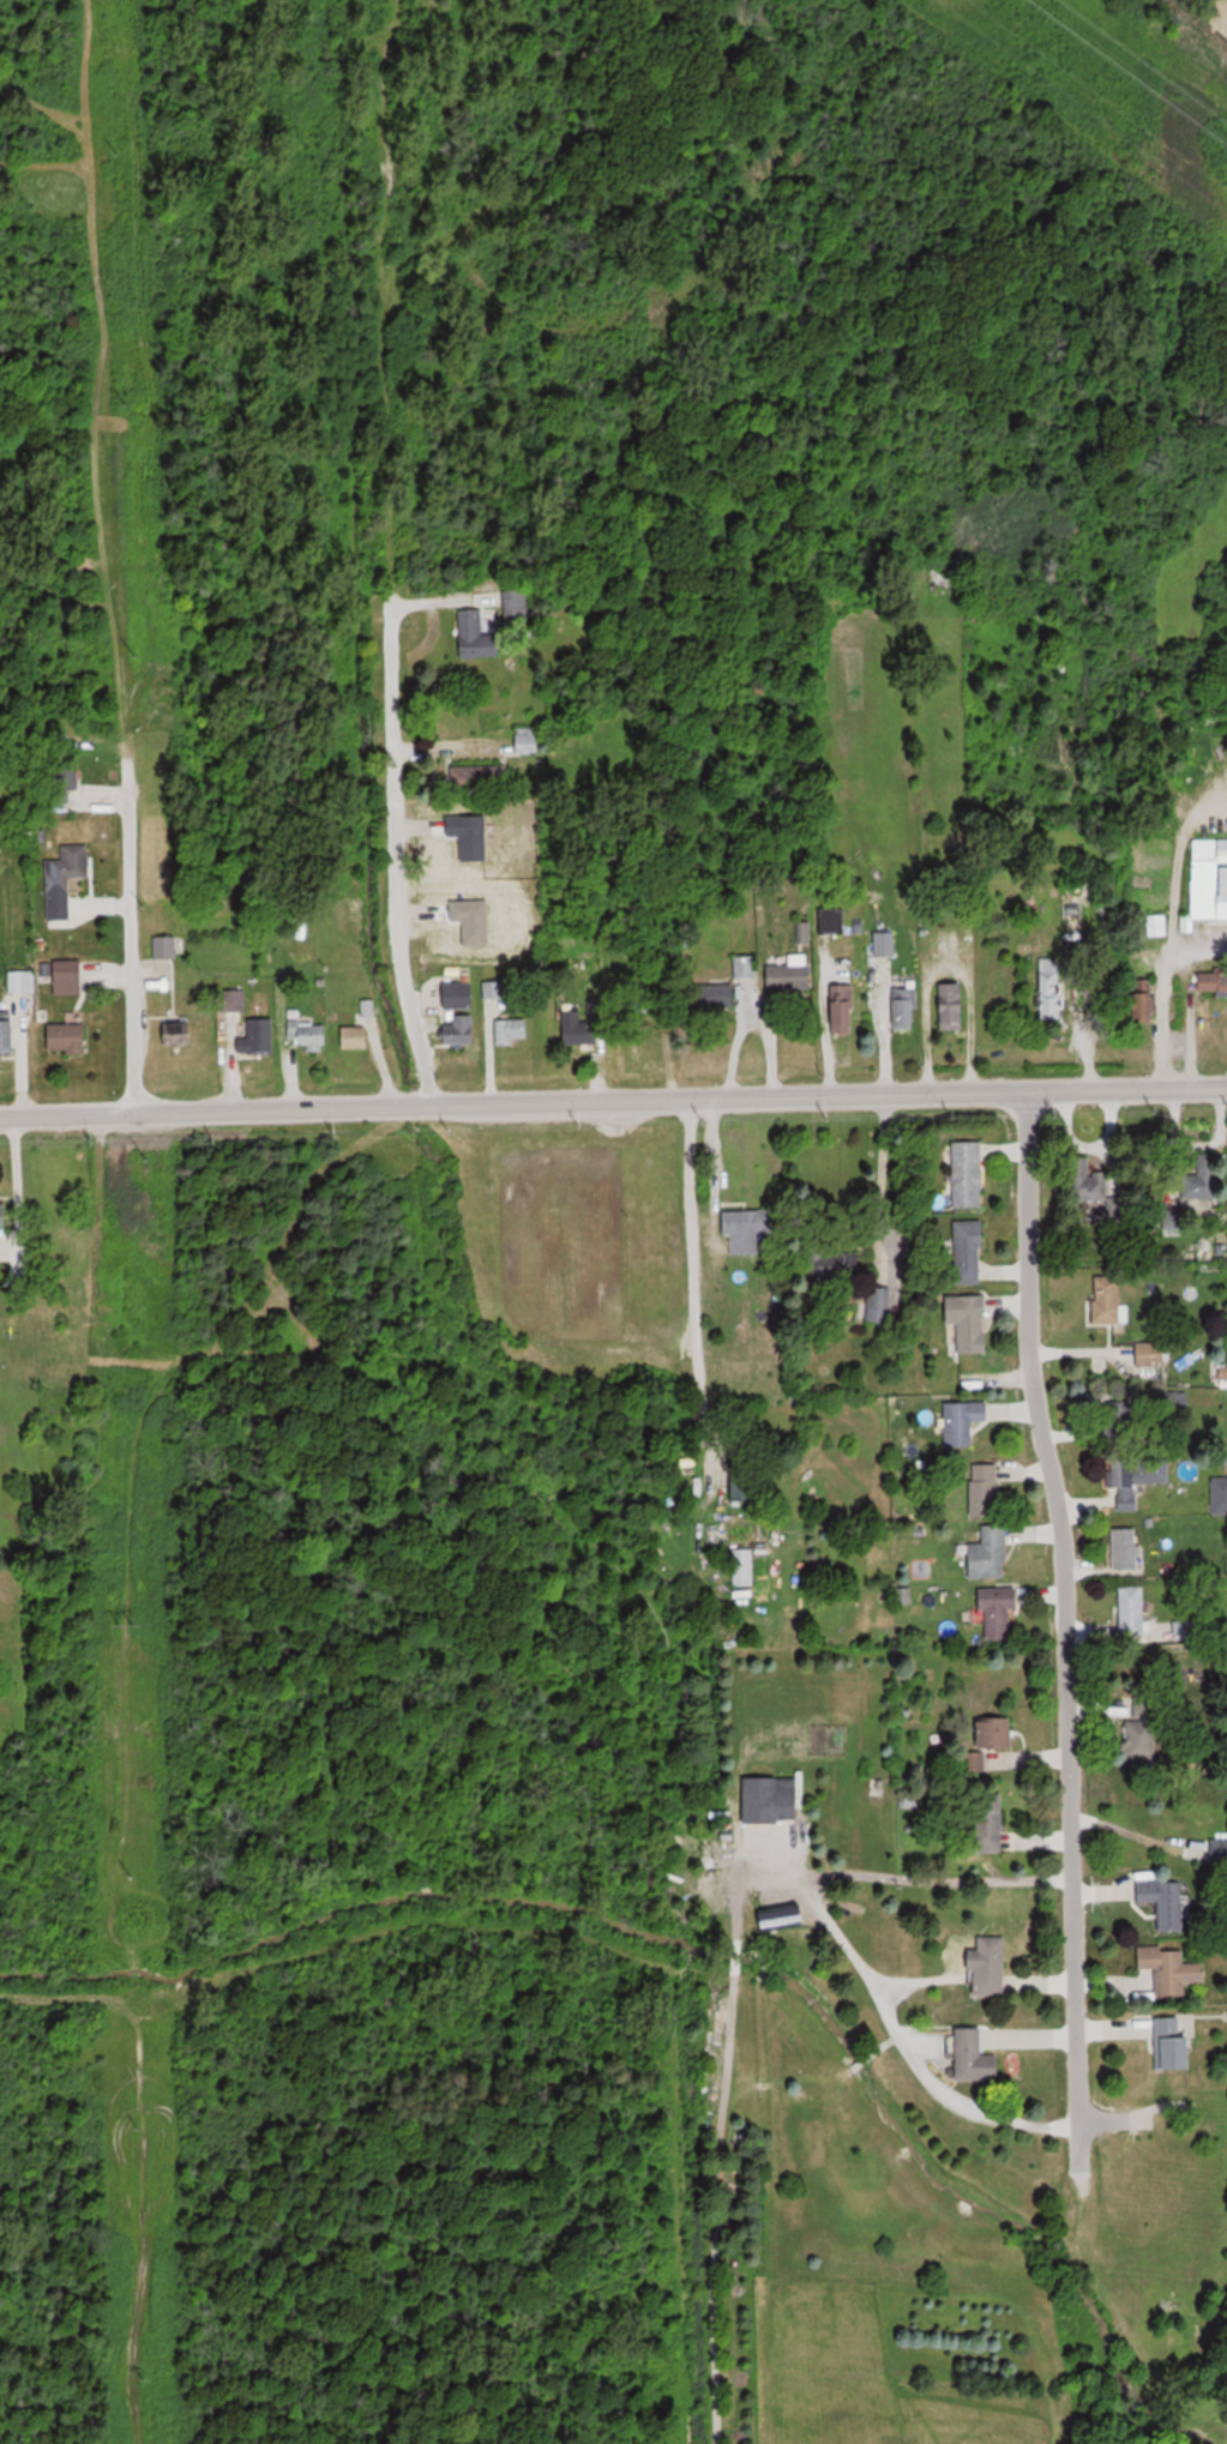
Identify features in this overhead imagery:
power tower: (118, 153)
power tower: (127, 403)
building: (515, 604)
building: (476, 636)
power tower: (134, 654)
building: (528, 741)
building: (480, 777)
road: (368, 850)
building: (499, 865)
building: (65, 879)
building: (1210, 879)
power tower: (144, 905)
building: (1157, 925)
building: (167, 947)
road: (127, 953)
building: (746, 967)
building: (792, 975)
building: (82, 977)
building: (1213, 981)
building: (1052, 989)
building: (643, 994)
building: (458, 995)
building: (235, 1000)
building: (1145, 1000)
building: (843, 1007)
building: (952, 1007)
building: (904, 1009)
road: (751, 1021)
building: (583, 1024)
road: (216, 1027)
building: (461, 1029)
building: (512, 1031)
building: (179, 1034)
building: (7, 1036)
building: (260, 1036)
building: (314, 1036)
building: (357, 1036)
building: (70, 1037)
road: (613, 1100)
power tower: (148, 1151)
road: (710, 1163)
building: (969, 1172)
building: (1205, 1174)
road: (877, 1178)
building: (1085, 1180)
building: (4, 1216)
building: (748, 1229)
building: (969, 1247)
building: (836, 1262)
road: (690, 1269)
building: (1108, 1299)
building: (969, 1318)
building: (1150, 1354)
building: (963, 1420)
building: (1121, 1425)
building: (1127, 1483)
building: (985, 1487)
building: (745, 1488)
building: (1125, 1546)
building: (988, 1553)
building: (744, 1567)
building: (998, 1608)
building: (1131, 1608)
power tower: (126, 1625)
road: (1065, 1641)
building: (1141, 1727)
building: (997, 1733)
building: (772, 1800)
building: (988, 1823)
power tower: (132, 1876)
road: (904, 1878)
building: (1163, 1898)
building: (784, 1919)
building: (990, 1967)
building: (1169, 1967)
road: (904, 2041)
building: (1173, 2043)
building: (976, 2057)
power tower: (139, 2135)
power tower: (144, 2377)

